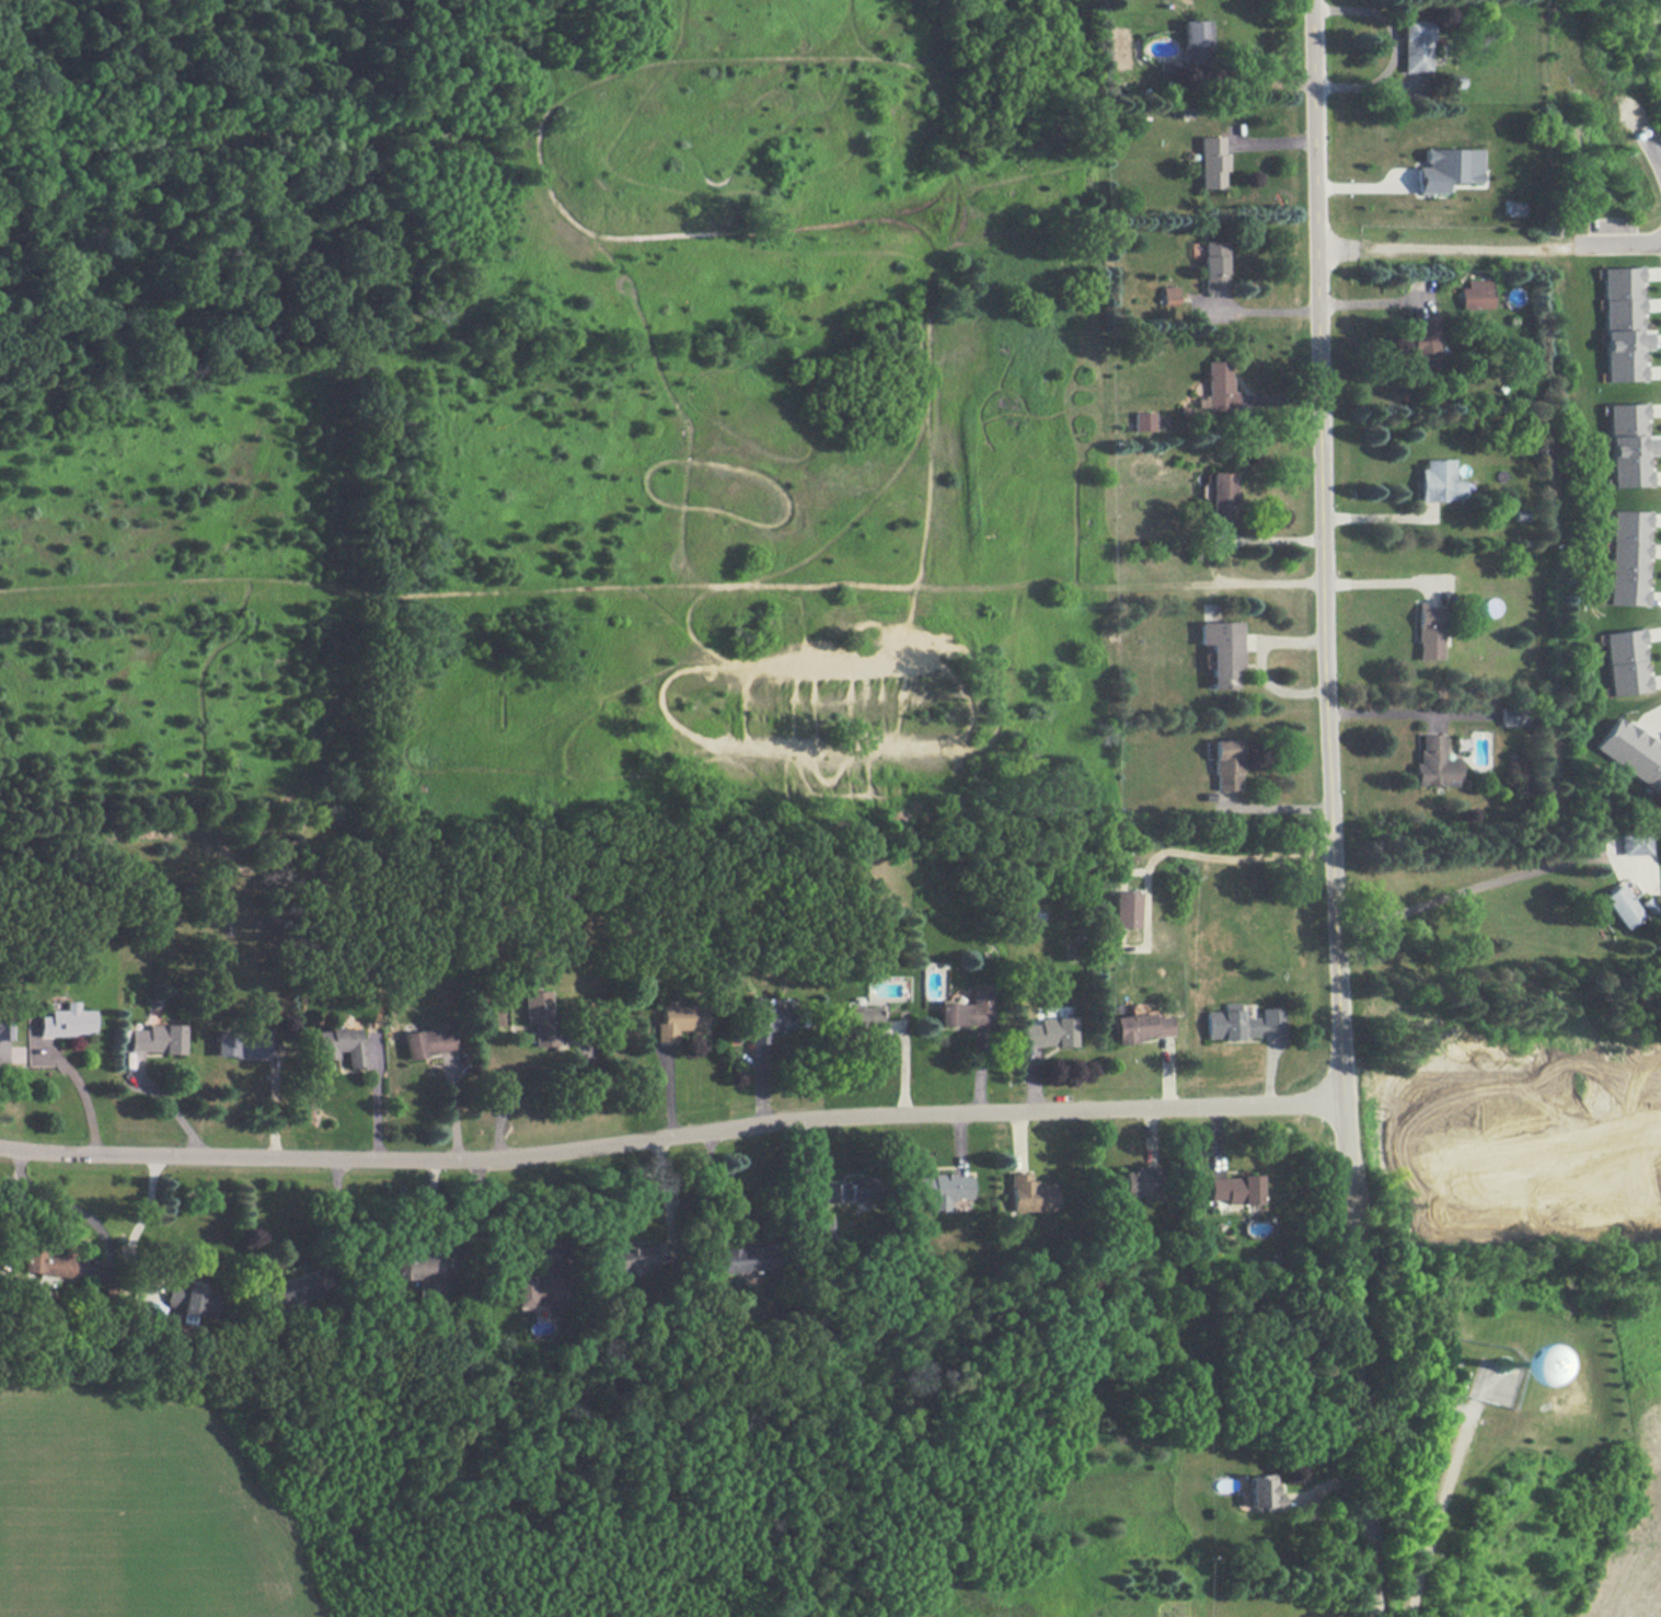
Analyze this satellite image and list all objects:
building: (1195, 39)
building: (1414, 45)
road: (1649, 147)
building: (1211, 160)
building: (1446, 166)
road: (1619, 243)
road: (1449, 246)
building: (1214, 265)
building: (1476, 293)
building: (1168, 294)
road: (1372, 300)
road: (1261, 310)
building: (1623, 323)
building: (1422, 335)
building: (1219, 386)
building: (1143, 419)
building: (1628, 444)
building: (1439, 480)
building: (1223, 495)
road: (1377, 516)
building: (1626, 556)
road: (1211, 562)
road: (1384, 580)
road: (1326, 592)
building: (1432, 632)
building: (1222, 650)
road: (1259, 660)
building: (1626, 660)
road: (1386, 714)
building: (1633, 751)
building: (1438, 762)
building: (1226, 764)
road: (1276, 807)
building: (1636, 842)
road: (1187, 848)
road: (1470, 880)
building: (1620, 905)
building: (1124, 908)
building: (966, 1008)
building: (537, 1015)
building: (860, 1018)
building: (67, 1020)
building: (759, 1020)
building: (679, 1021)
building: (1239, 1021)
building: (1141, 1026)
building: (4, 1027)
building: (1049, 1031)
building: (158, 1038)
building: (428, 1040)
building: (241, 1043)
building: (339, 1043)
road: (5, 1056)
road: (527, 1095)
road: (88, 1096)
road: (273, 1097)
road: (377, 1100)
road: (171, 1105)
road: (669, 1132)
building: (1139, 1180)
building: (851, 1188)
building: (942, 1188)
building: (1235, 1188)
building: (1030, 1193)
road: (711, 1194)
road: (71, 1205)
road: (139, 1215)
building: (819, 1226)
building: (632, 1257)
building: (47, 1262)
building: (745, 1262)
building: (419, 1263)
building: (290, 1290)
building: (533, 1290)
building: (185, 1298)
building: (1503, 1362)
water tower: (1498, 1363)
road: (1361, 1400)
building: (1261, 1491)
road: (1434, 1509)

